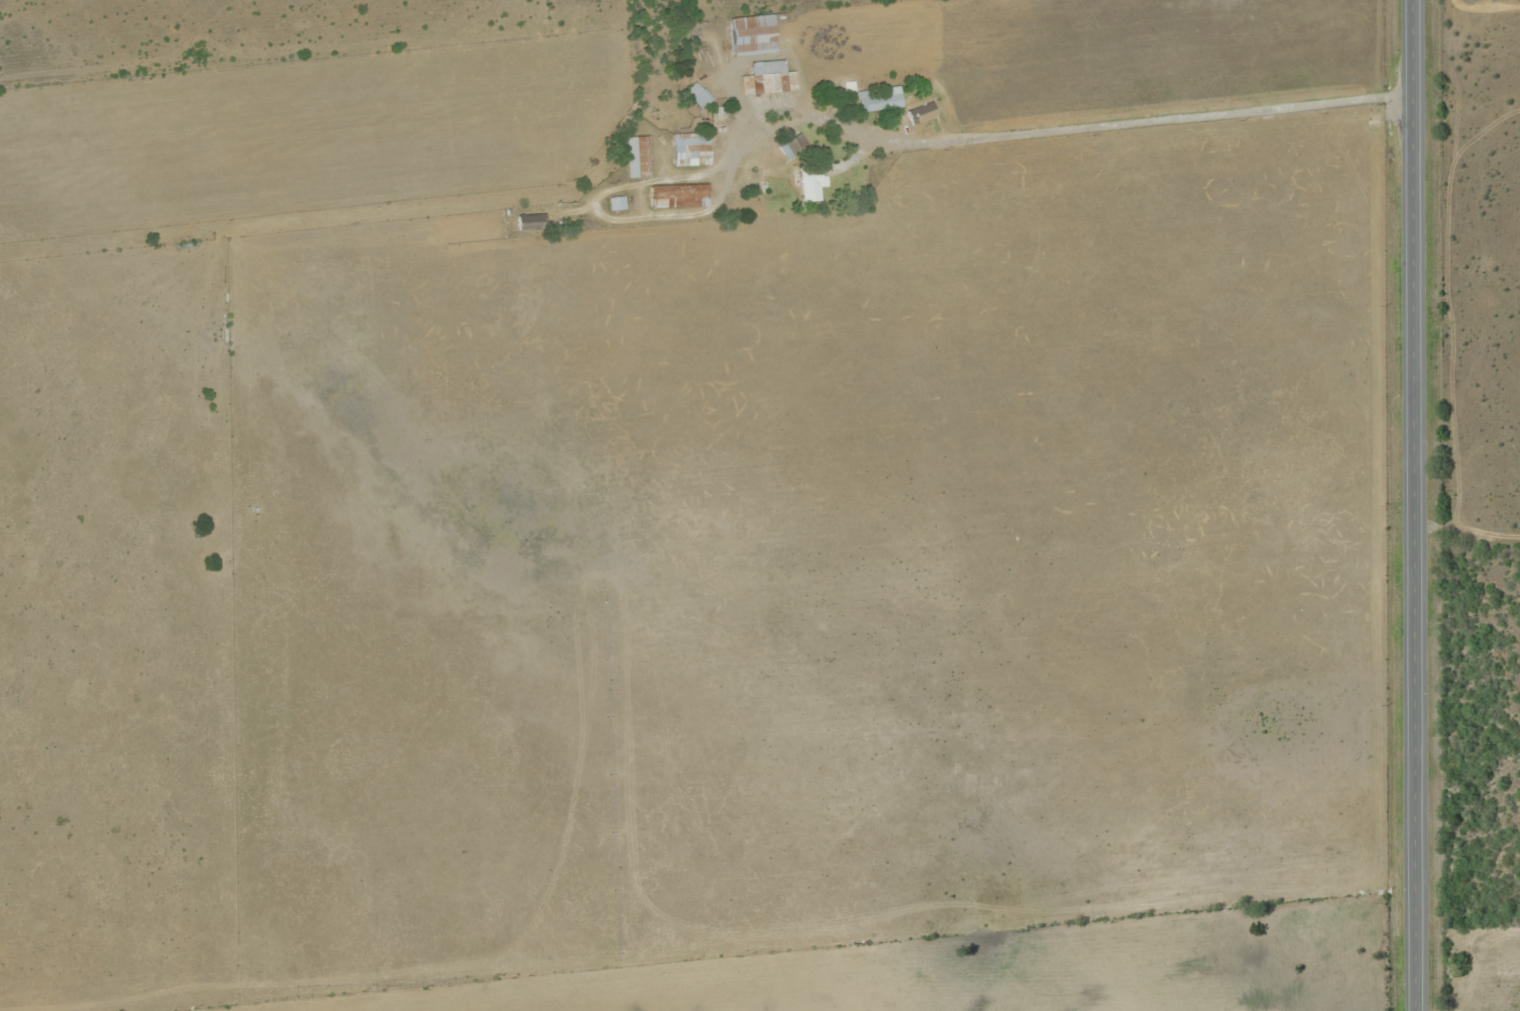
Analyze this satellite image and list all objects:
building: (751, 33)
building: (766, 77)
building: (696, 94)
building: (877, 98)
building: (920, 112)
road: (1080, 119)
building: (689, 148)
building: (636, 155)
building: (809, 181)
building: (677, 194)
building: (615, 202)
building: (529, 221)
road: (1412, 505)

